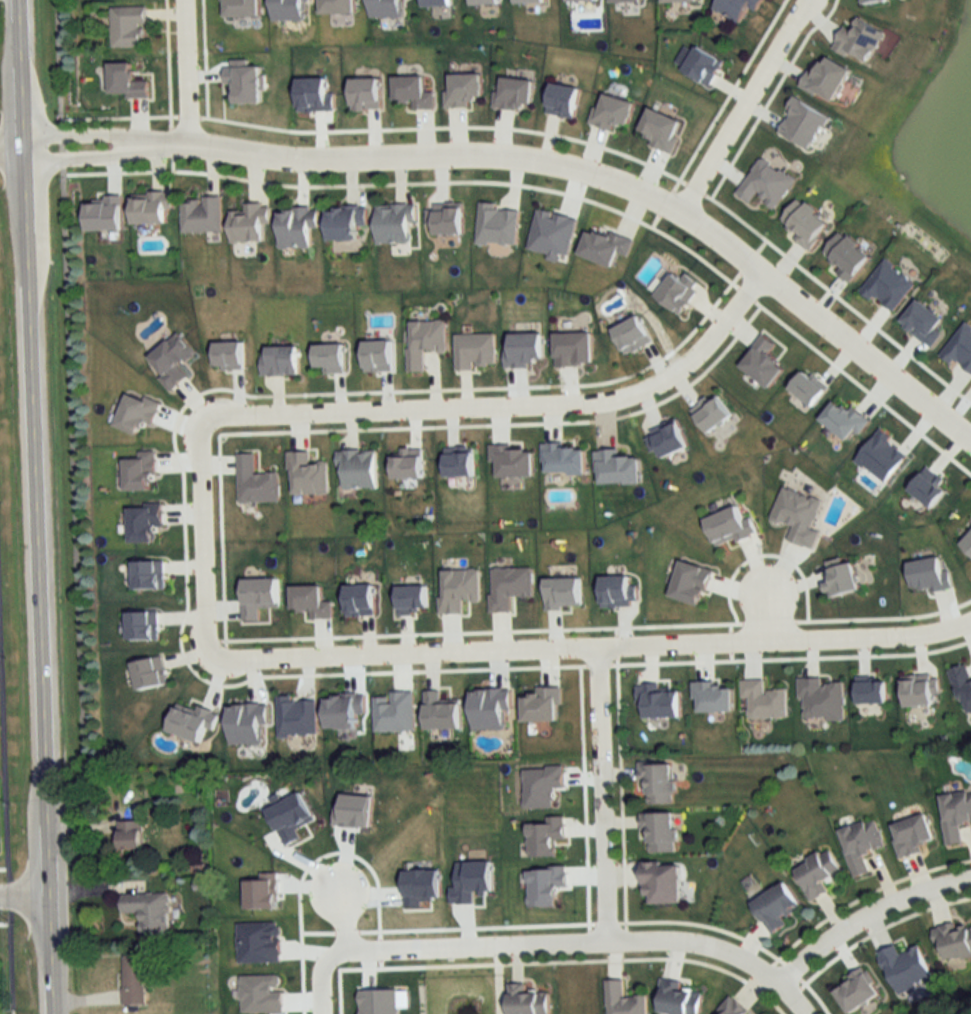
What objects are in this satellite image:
building: (581, 0)
building: (484, 2)
building: (529, 2)
building: (436, 3)
building: (736, 8)
building: (127, 27)
building: (860, 40)
building: (703, 66)
road: (183, 74)
building: (364, 95)
building: (562, 101)
road: (743, 104)
building: (802, 123)
road: (123, 144)
road: (10, 146)
road: (589, 174)
building: (150, 208)
building: (201, 215)
building: (248, 223)
building: (805, 223)
building: (345, 224)
building: (394, 224)
building: (296, 227)
building: (847, 257)
building: (888, 286)
building: (923, 323)
building: (425, 341)
building: (959, 348)
building: (475, 351)
building: (228, 356)
building: (378, 356)
building: (330, 358)
building: (280, 361)
road: (508, 405)
building: (710, 413)
building: (667, 441)
building: (564, 459)
building: (459, 465)
building: (407, 468)
building: (358, 469)
building: (307, 475)
road: (35, 506)
building: (730, 528)
road: (201, 538)
building: (968, 545)
building: (841, 579)
building: (458, 590)
building: (618, 592)
building: (258, 597)
building: (360, 600)
road: (768, 616)
road: (591, 653)
building: (921, 692)
building: (872, 694)
building: (764, 701)
building: (660, 702)
building: (343, 712)
building: (297, 717)
building: (657, 783)
road: (8, 789)
road: (603, 798)
building: (956, 814)
building: (659, 830)
building: (130, 834)
building: (914, 834)
building: (545, 835)
building: (861, 844)
building: (817, 872)
building: (661, 881)
road: (25, 893)
building: (776, 906)
building: (148, 911)
road: (871, 918)
road: (342, 921)
building: (955, 940)
road: (583, 944)
building: (906, 967)
road: (319, 979)
building: (133, 980)
building: (857, 992)
building: (678, 998)
building: (527, 1000)
building: (623, 1000)
building: (734, 1008)
road: (15, 1009)

